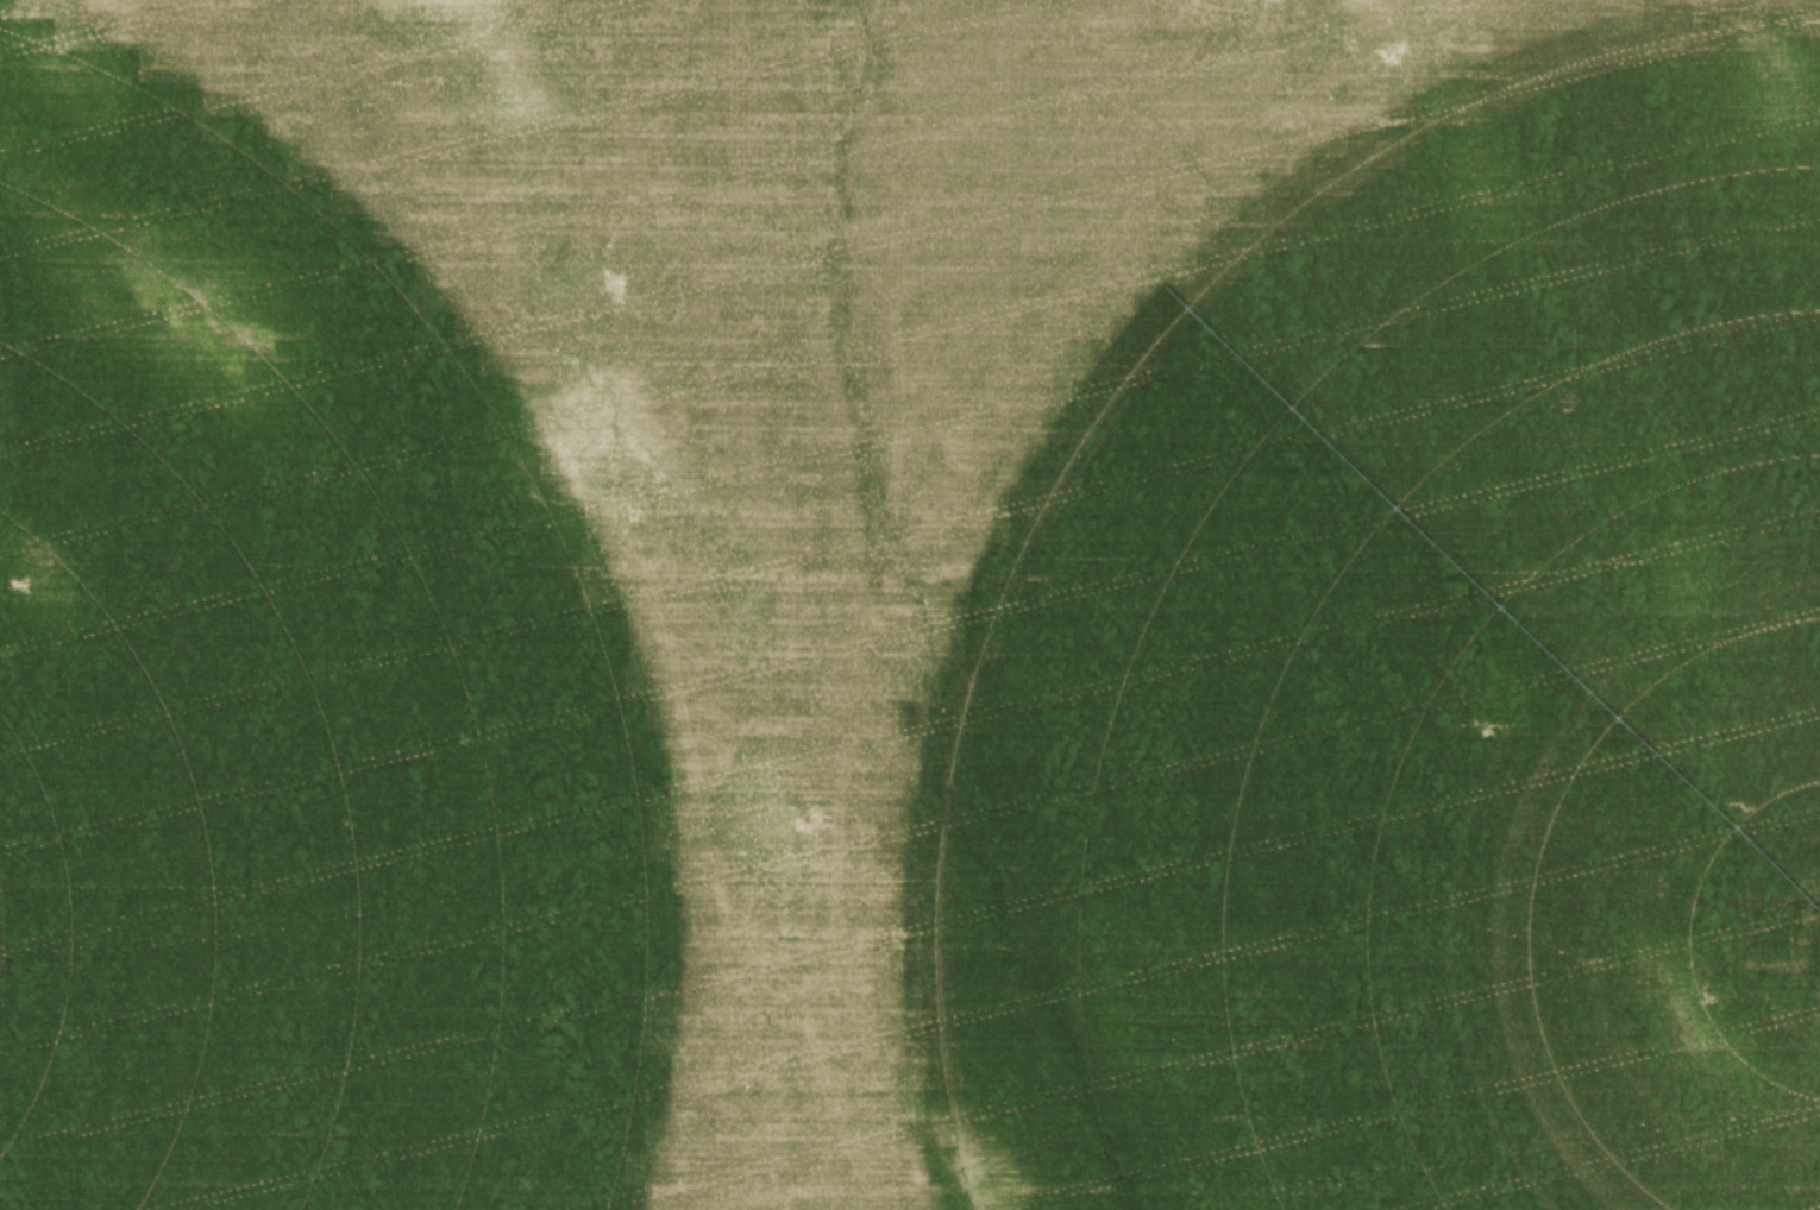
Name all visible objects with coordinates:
crop: (910, 605)

